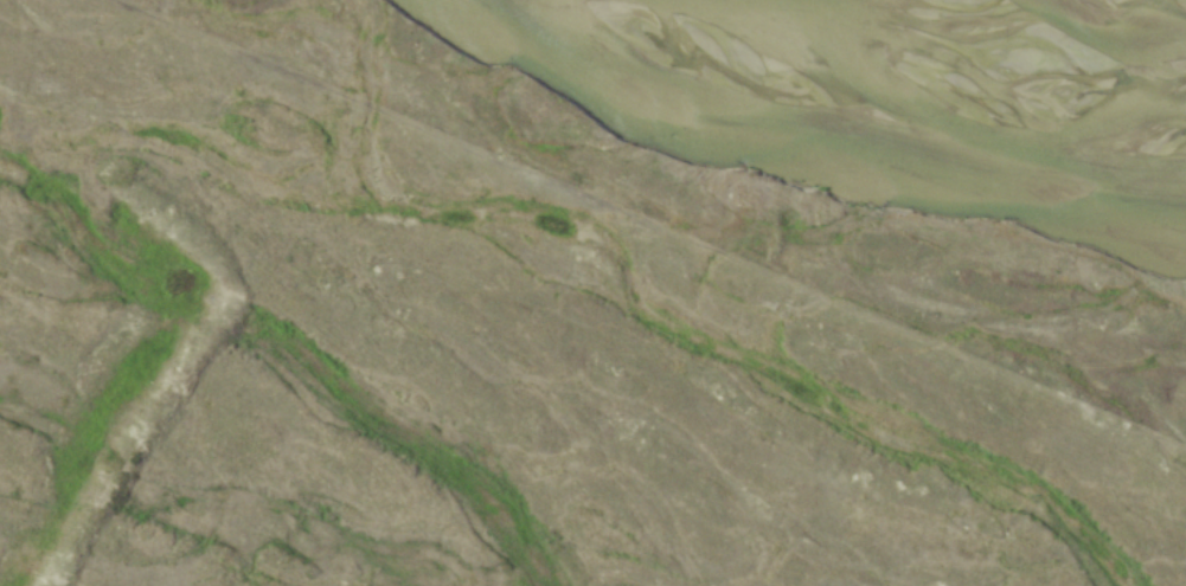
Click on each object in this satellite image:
river: (1091, 32)

